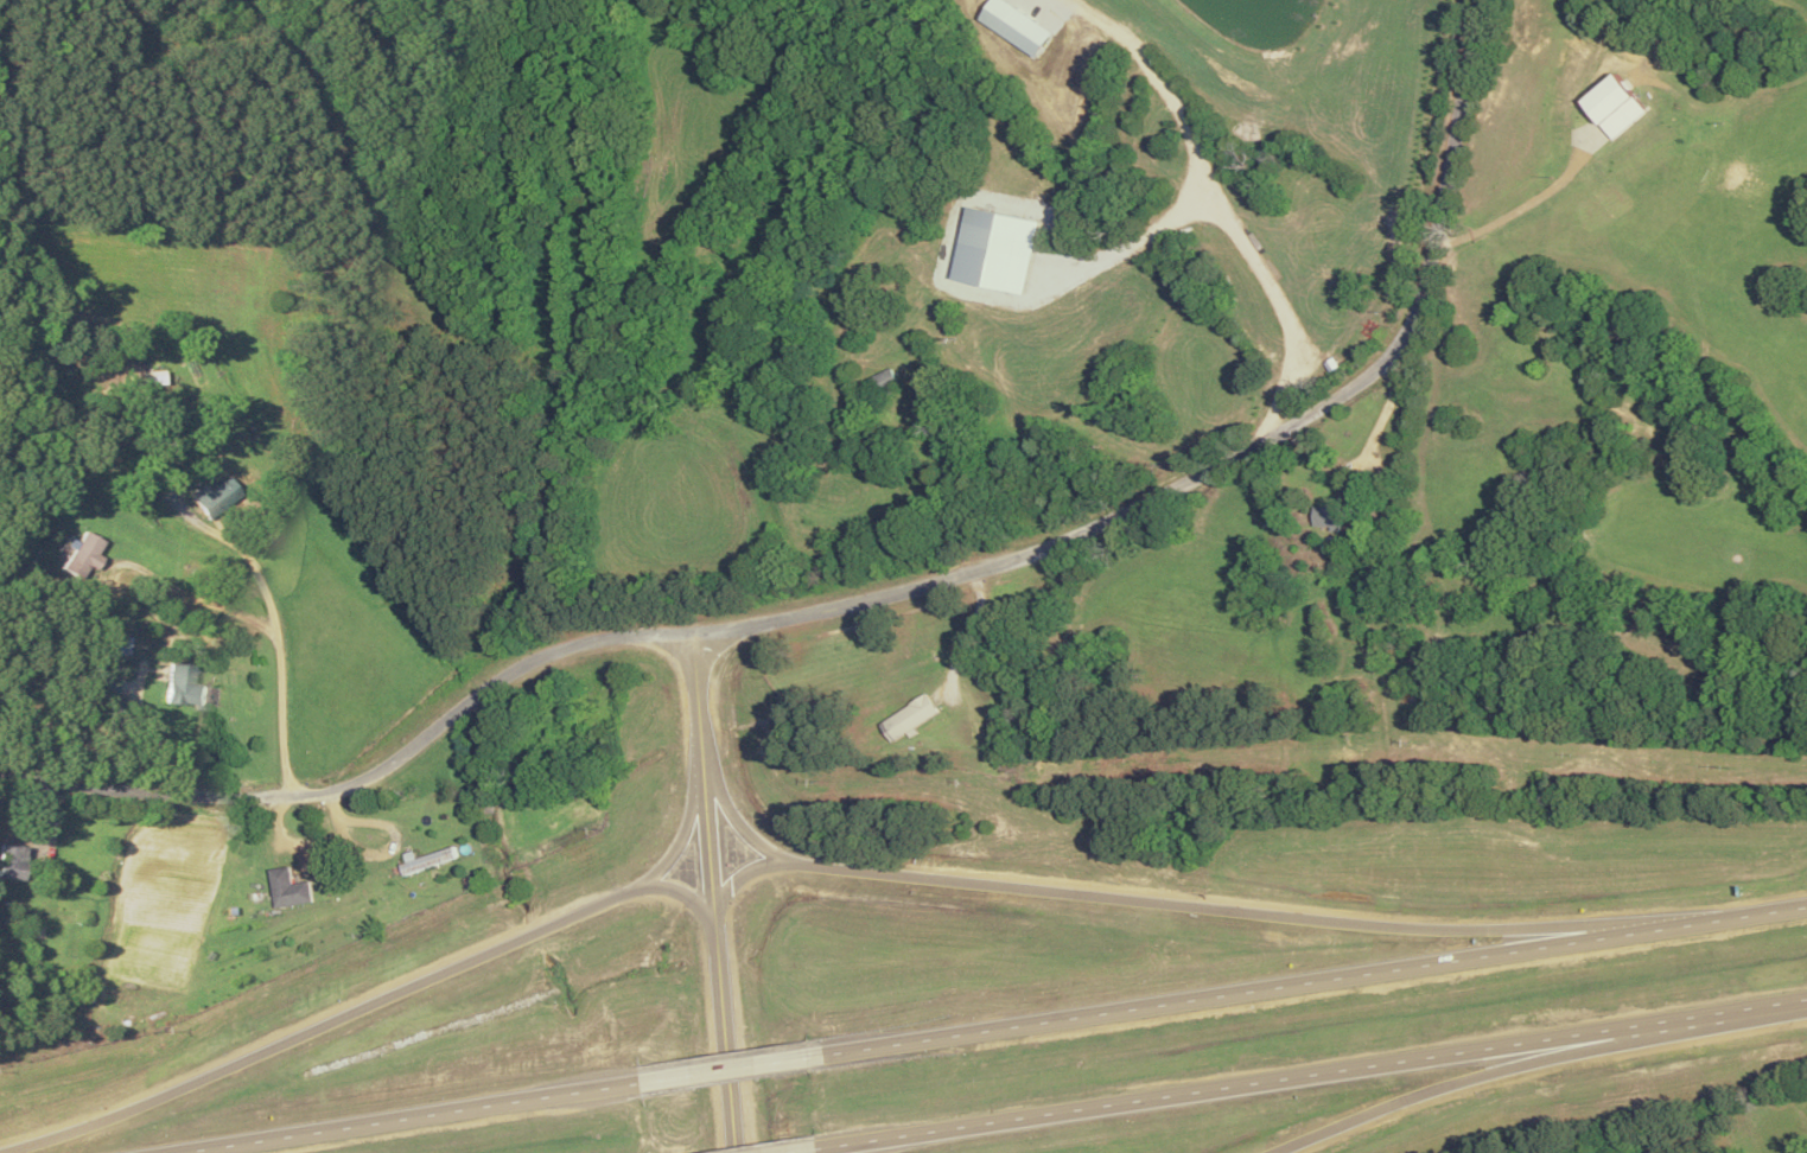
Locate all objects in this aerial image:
building: (1134, 242)
building: (1311, 256)
building: (146, 377)
building: (887, 380)
road: (1226, 458)
building: (214, 496)
building: (1332, 515)
building: (81, 555)
building: (112, 644)
road: (282, 660)
building: (103, 681)
building: (183, 687)
building: (912, 716)
road: (364, 776)
road: (705, 779)
road: (736, 816)
road: (687, 826)
building: (13, 856)
building: (430, 860)
building: (292, 888)
road: (1179, 904)
building: (63, 915)
building: (13, 917)
road: (1315, 981)
road: (364, 1007)
road: (726, 1038)
road: (734, 1068)
road: (1489, 1070)
road: (1315, 1072)
road: (408, 1117)
road: (816, 1152)

